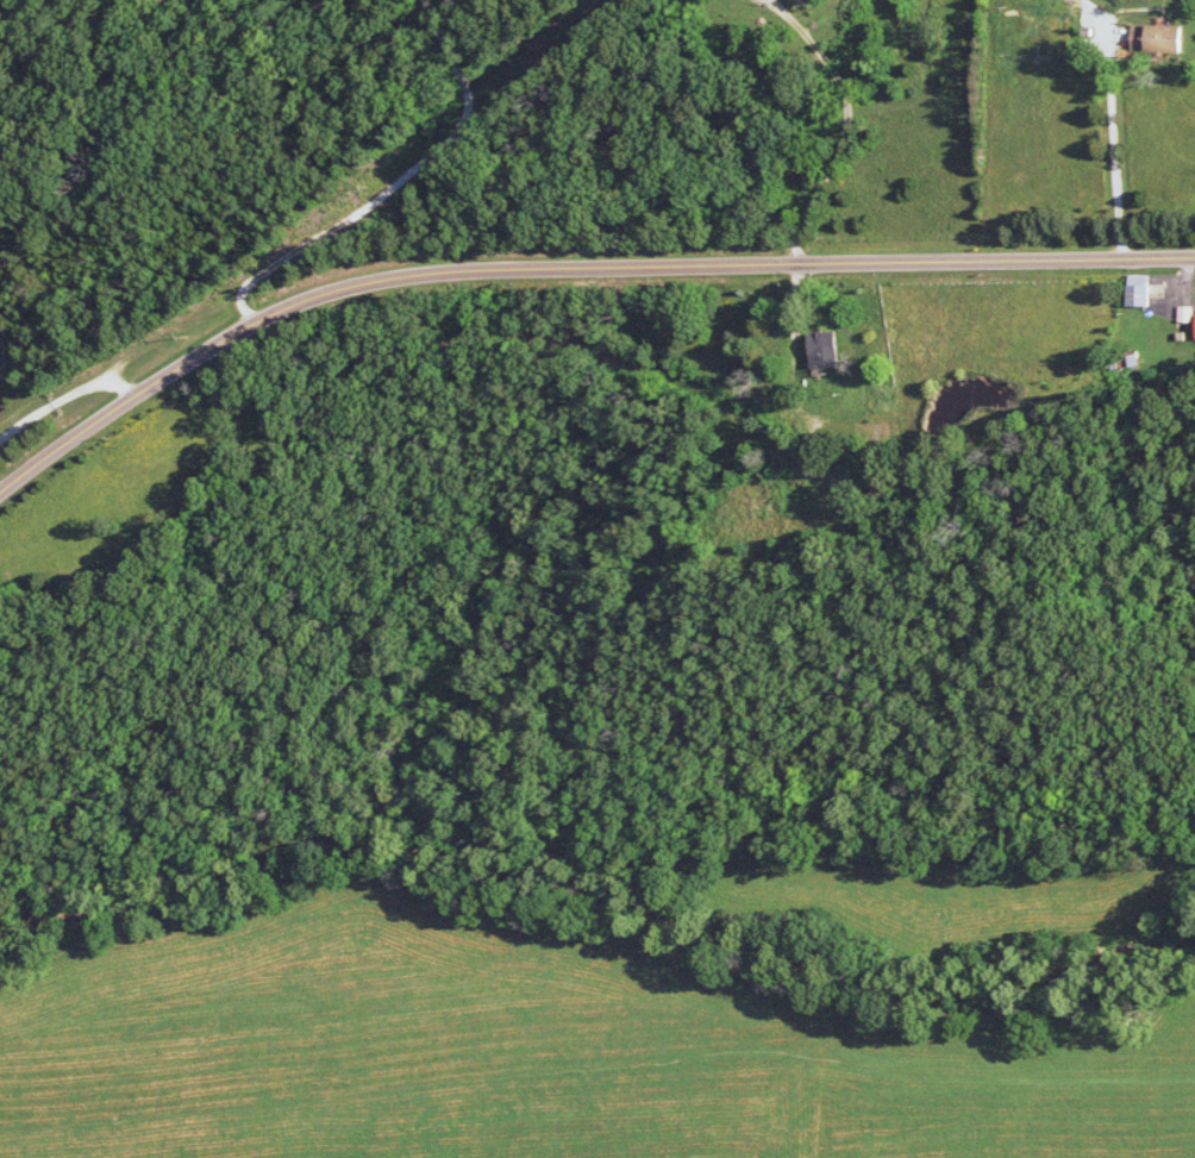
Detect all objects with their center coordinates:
building: (1144, 37)
building: (1169, 39)
road: (844, 125)
road: (1110, 149)
road: (569, 271)
building: (1143, 290)
building: (828, 351)

